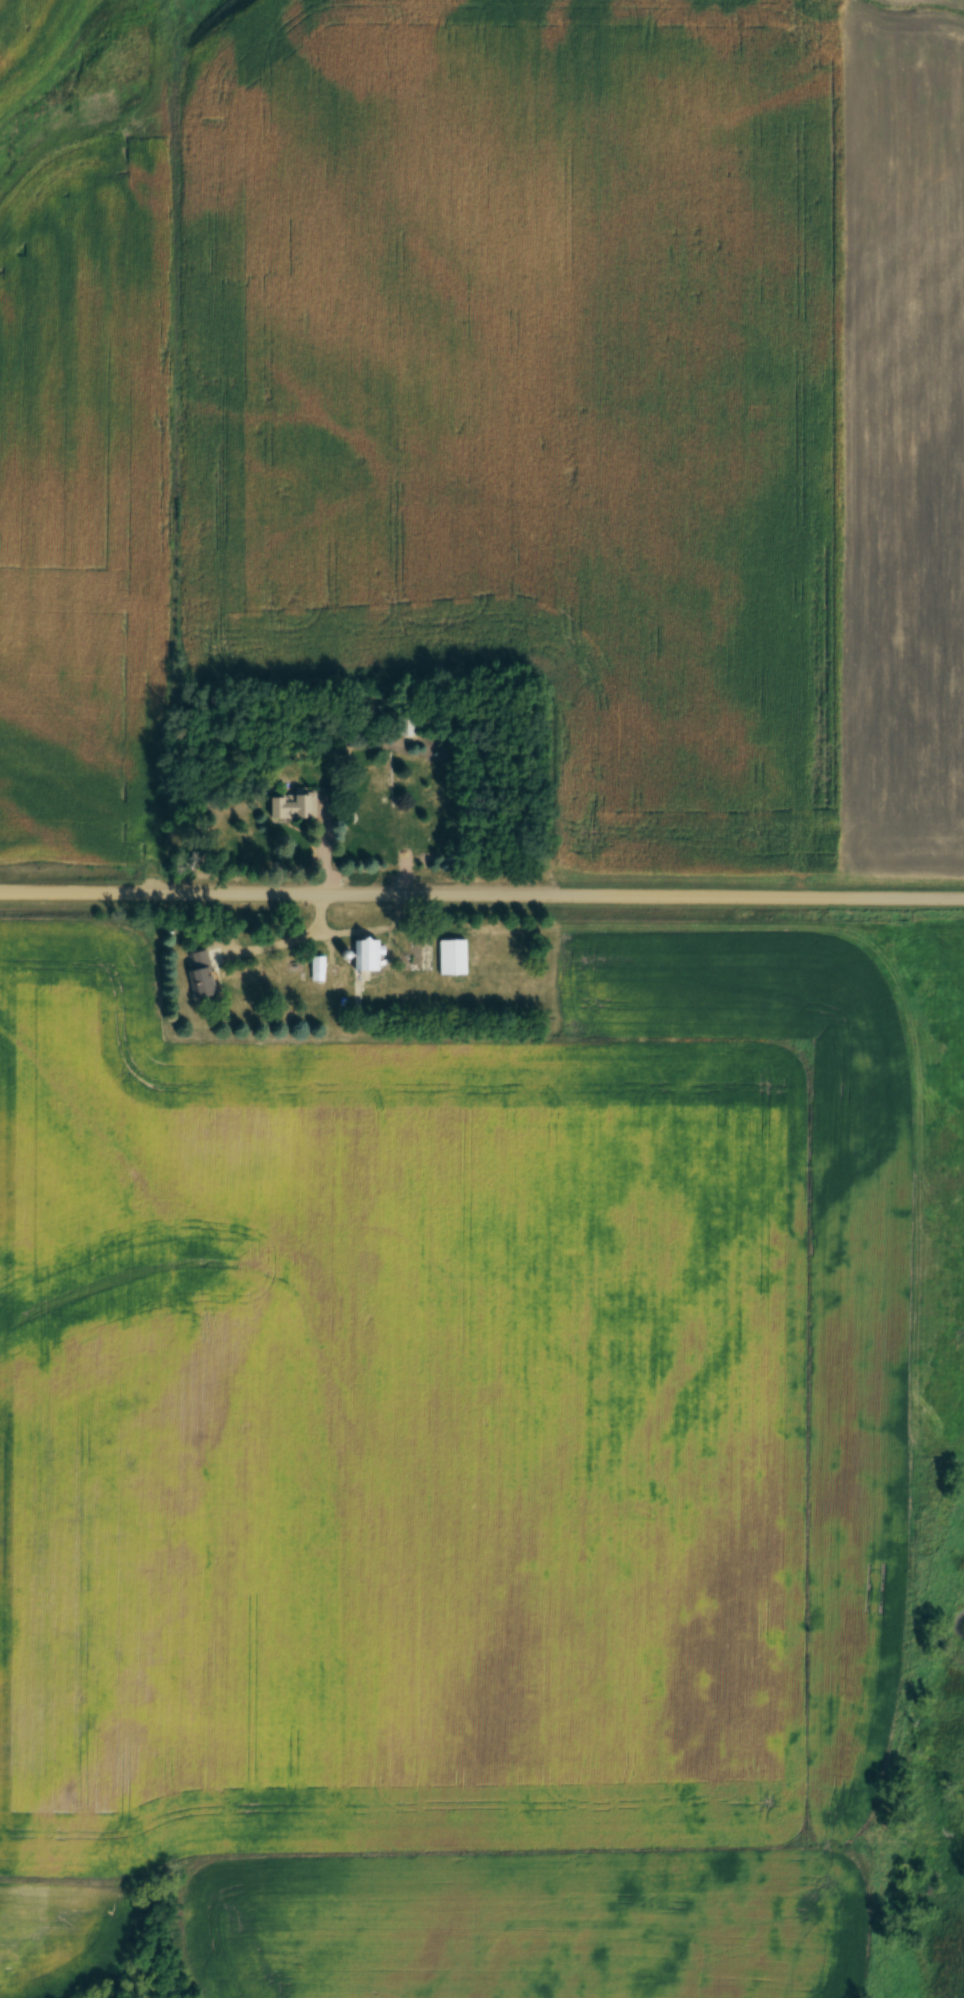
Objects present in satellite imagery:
building: (401, 723)
building: (286, 807)
road: (482, 895)
building: (360, 953)
building: (447, 956)
building: (313, 963)
building: (198, 974)

